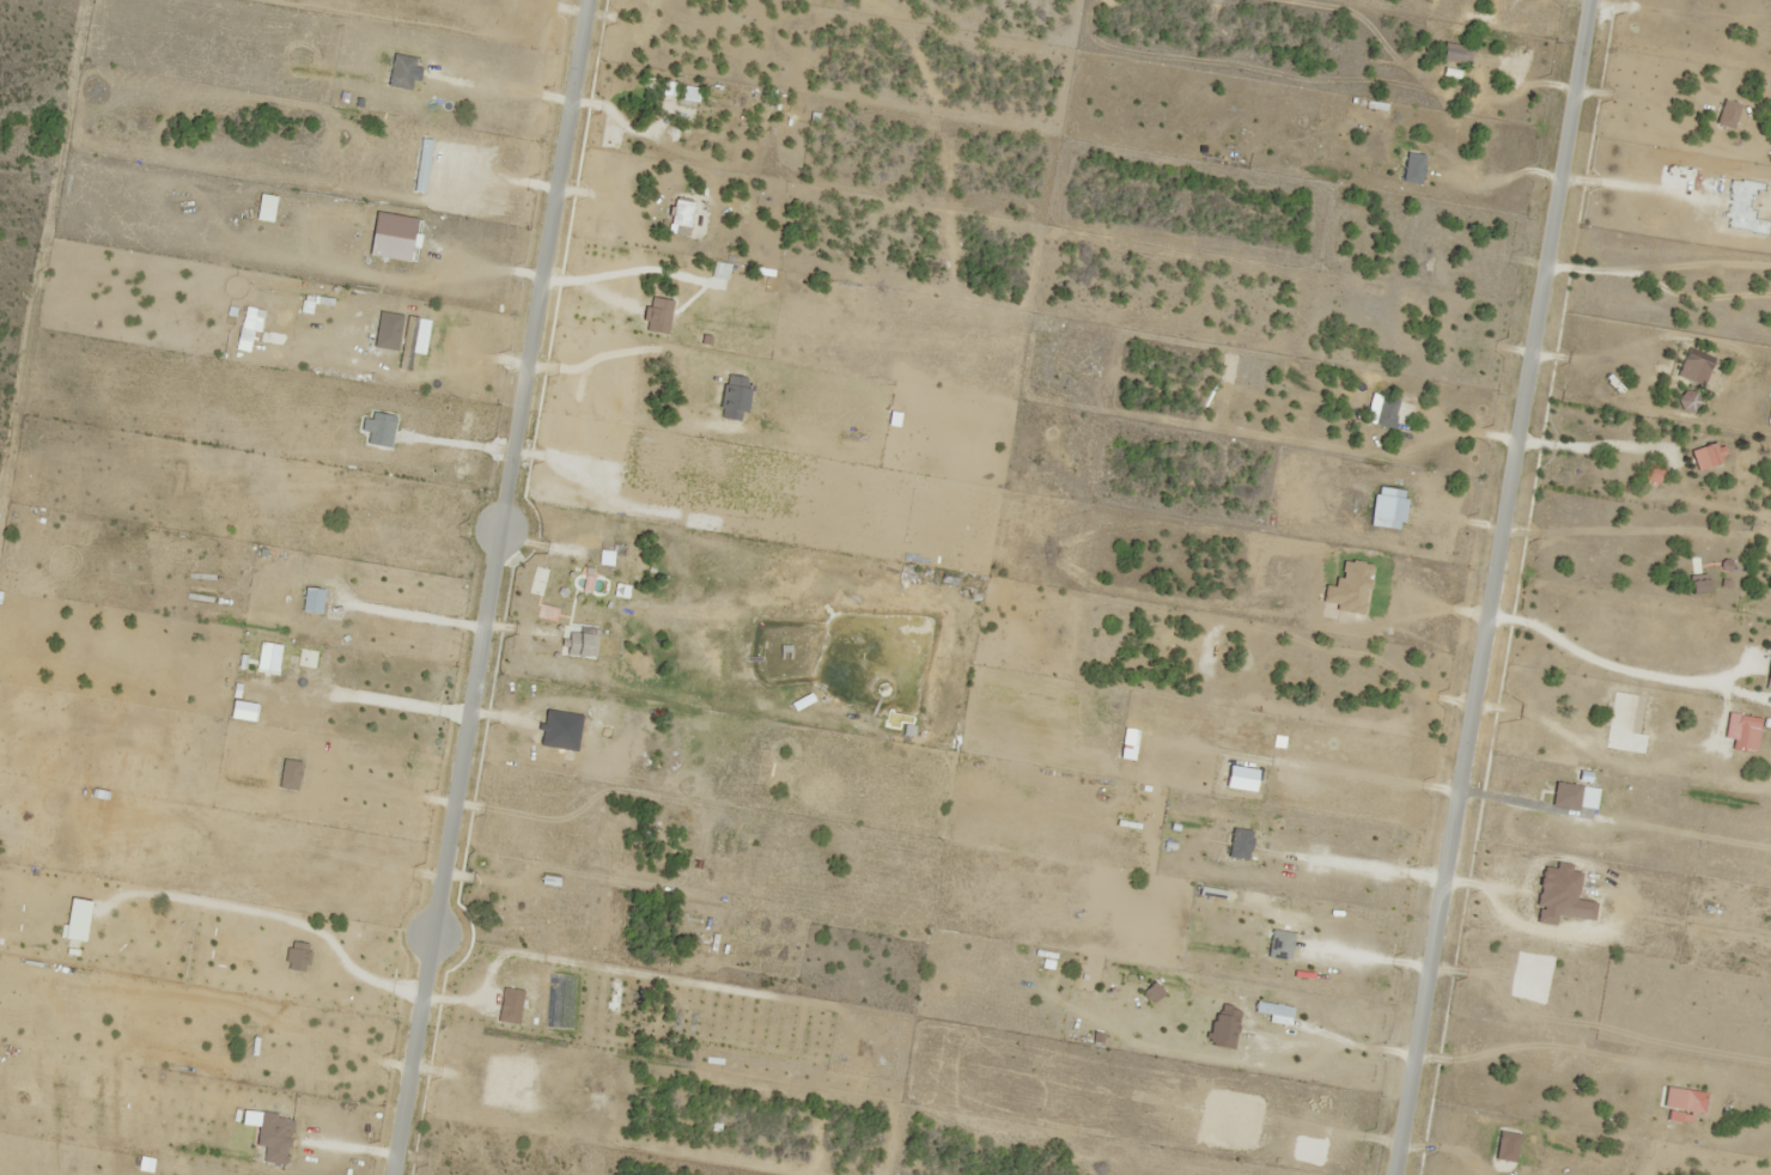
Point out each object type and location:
road: (489, 586)
road: (1491, 587)

